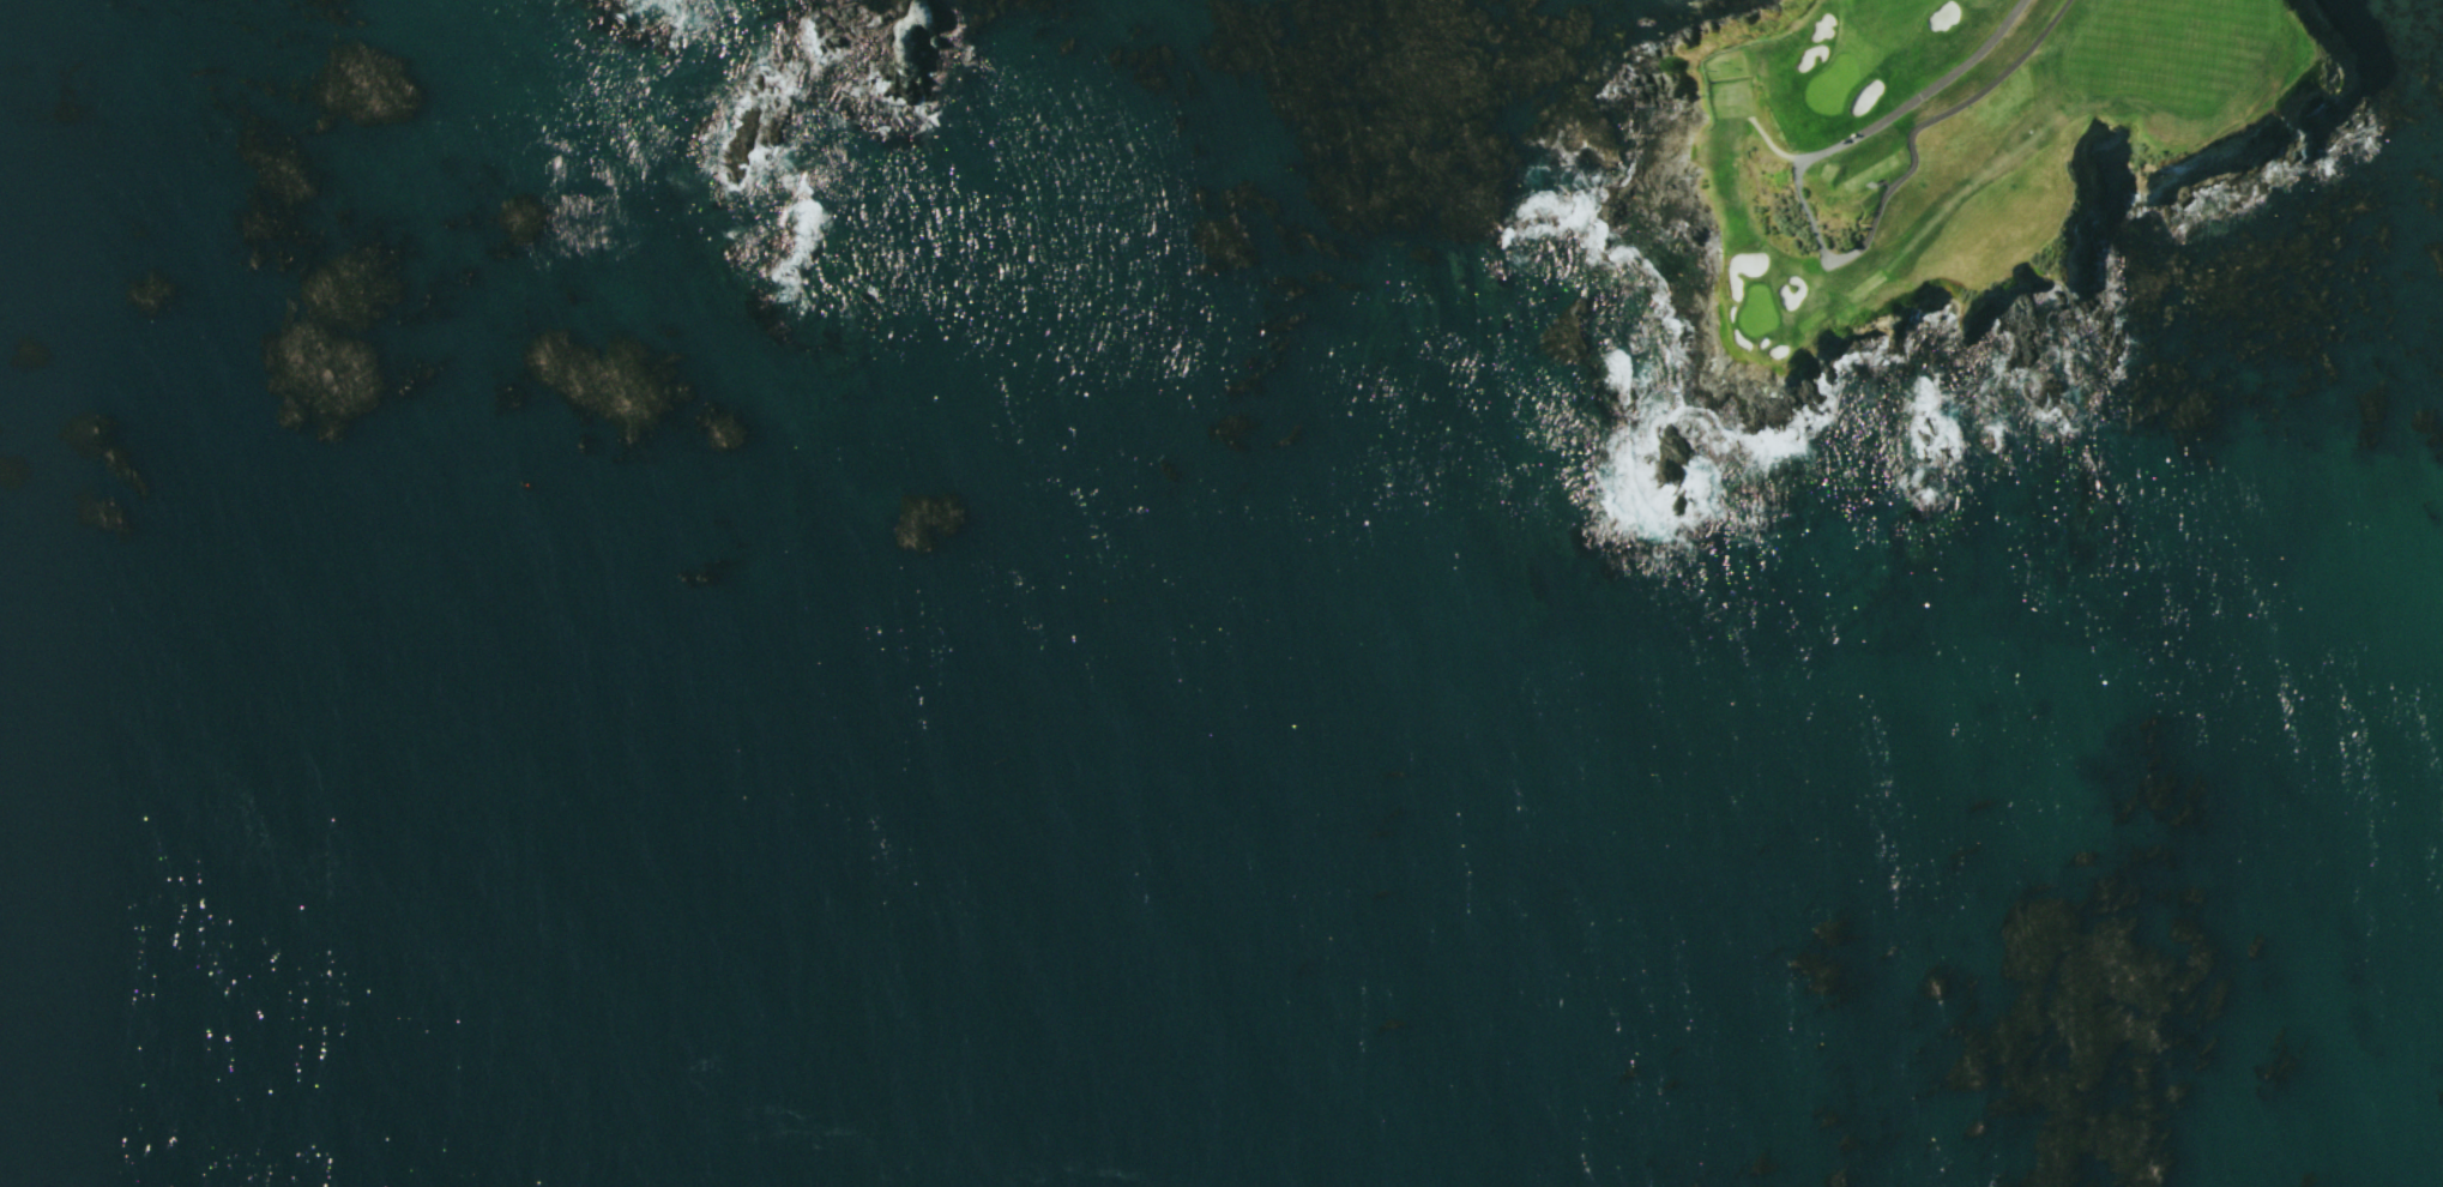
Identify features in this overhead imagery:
park: (1829, 82)
park: (1938, 140)
road: (1767, 141)
road: (1803, 155)
road: (1822, 252)

